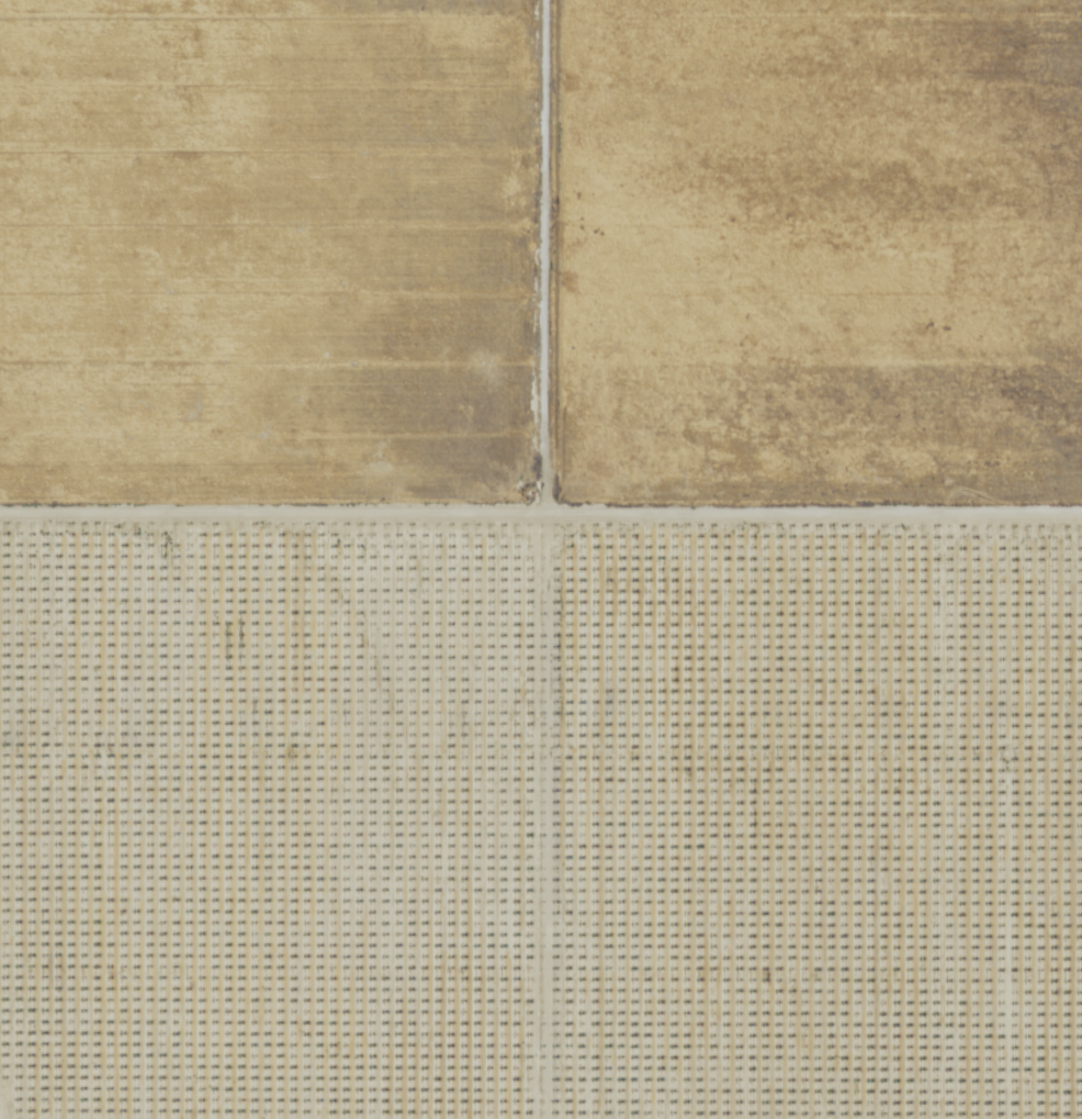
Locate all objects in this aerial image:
crop: (267, 254)
crop: (816, 255)
road: (541, 516)

